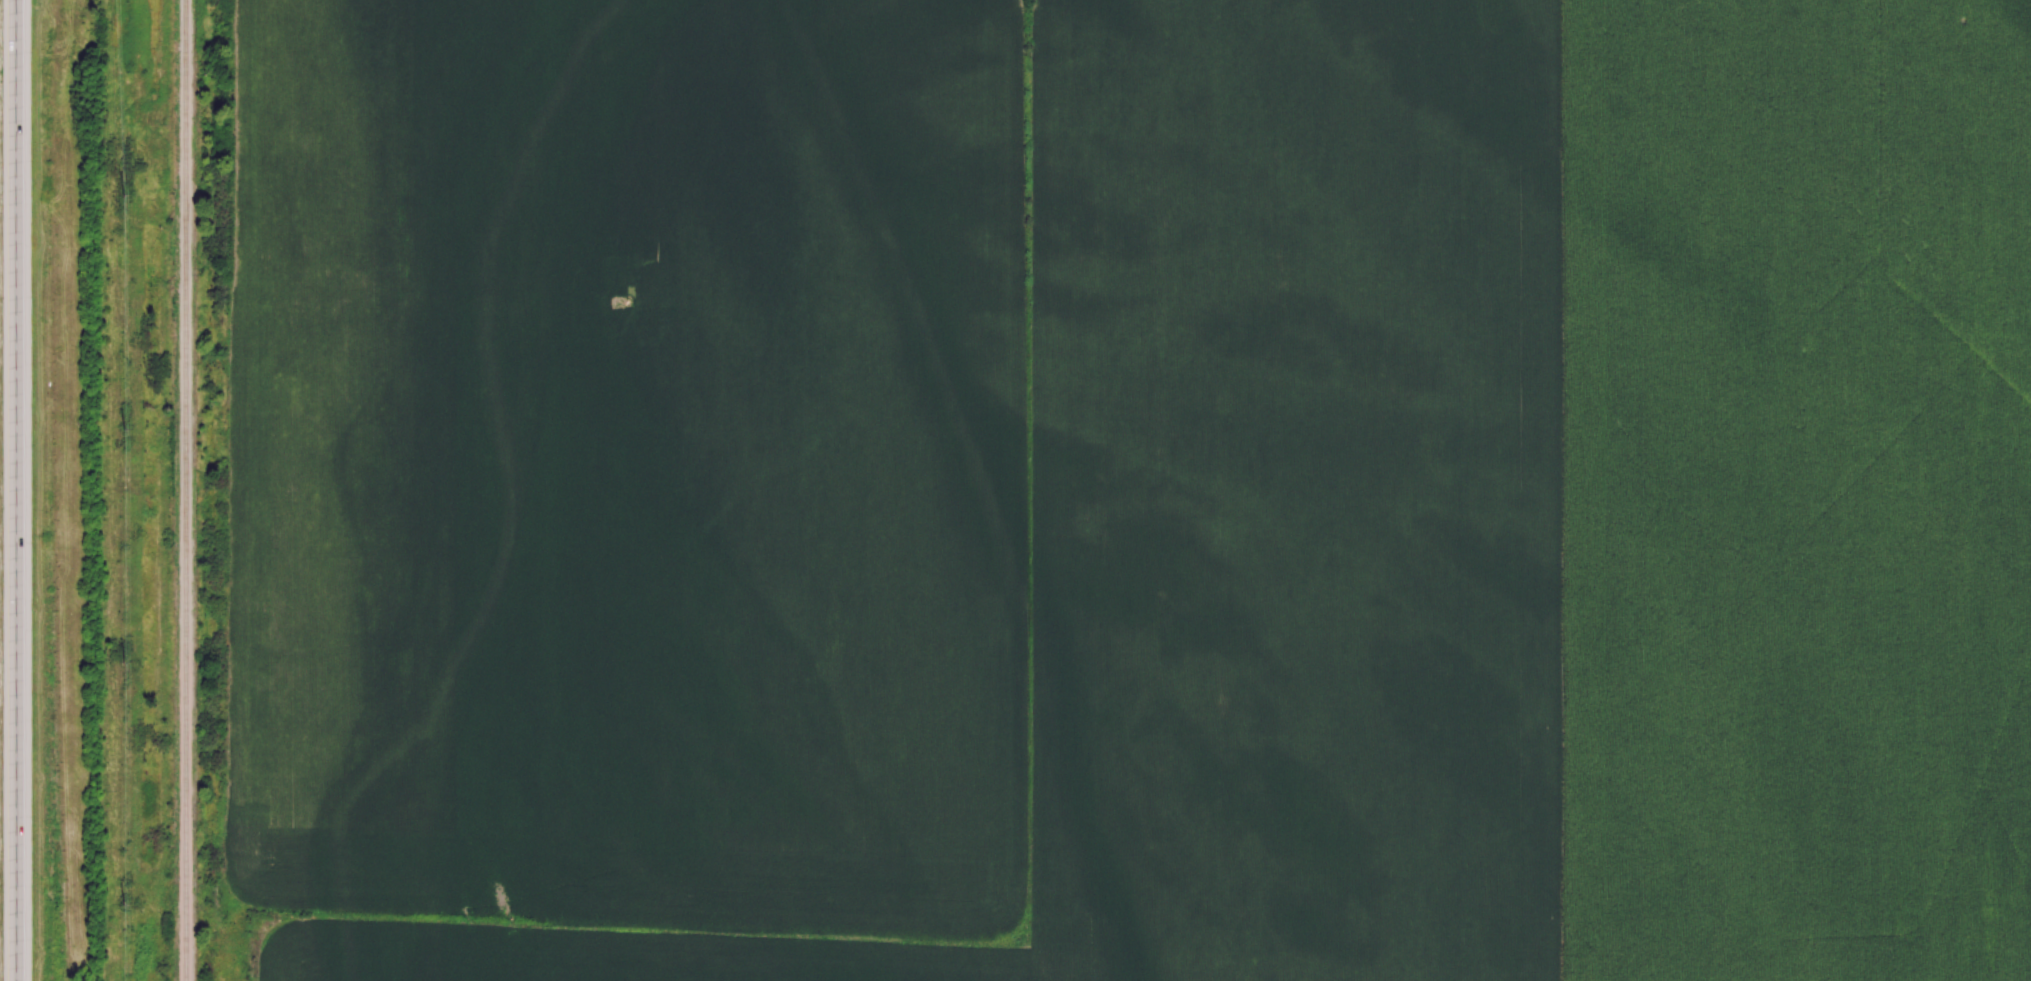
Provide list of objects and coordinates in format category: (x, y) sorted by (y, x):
road: (16, 490)
railway: (186, 490)

